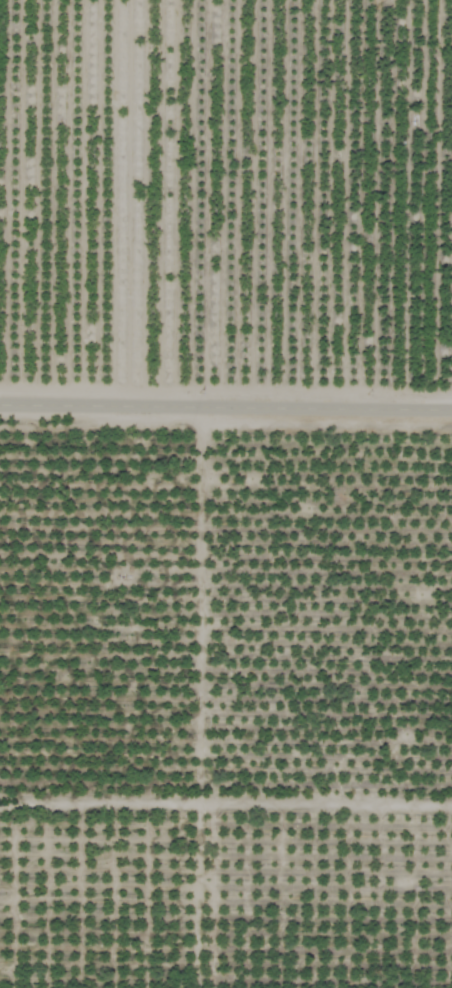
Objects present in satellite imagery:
road: (226, 403)
crop: (226, 494)

